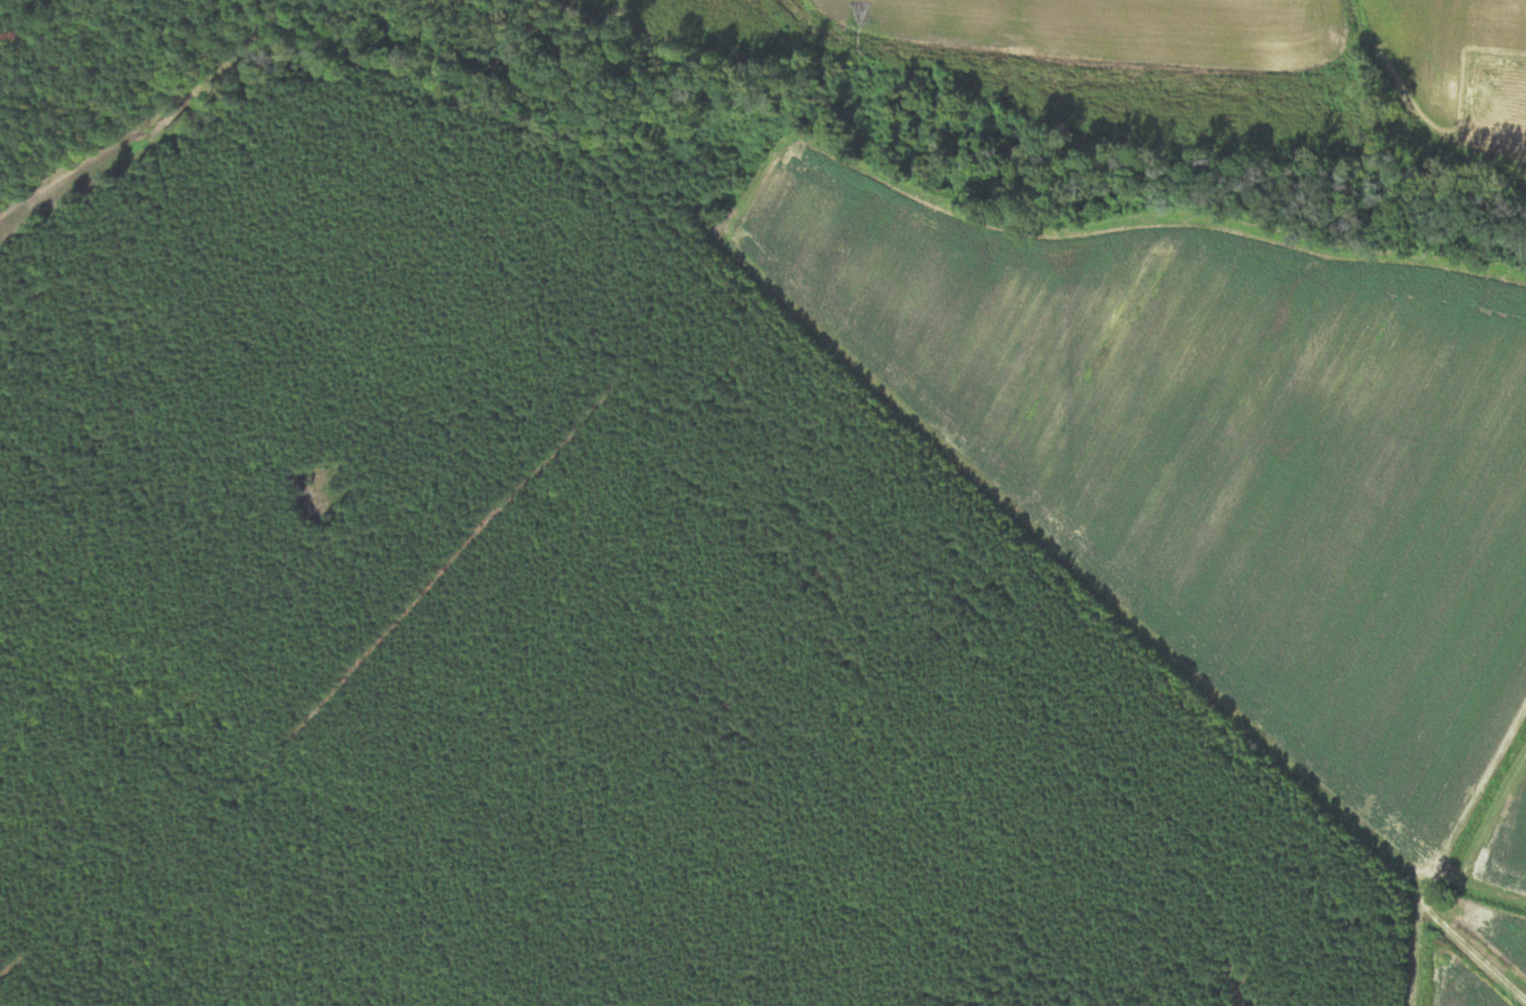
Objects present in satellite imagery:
road: (1448, 874)

